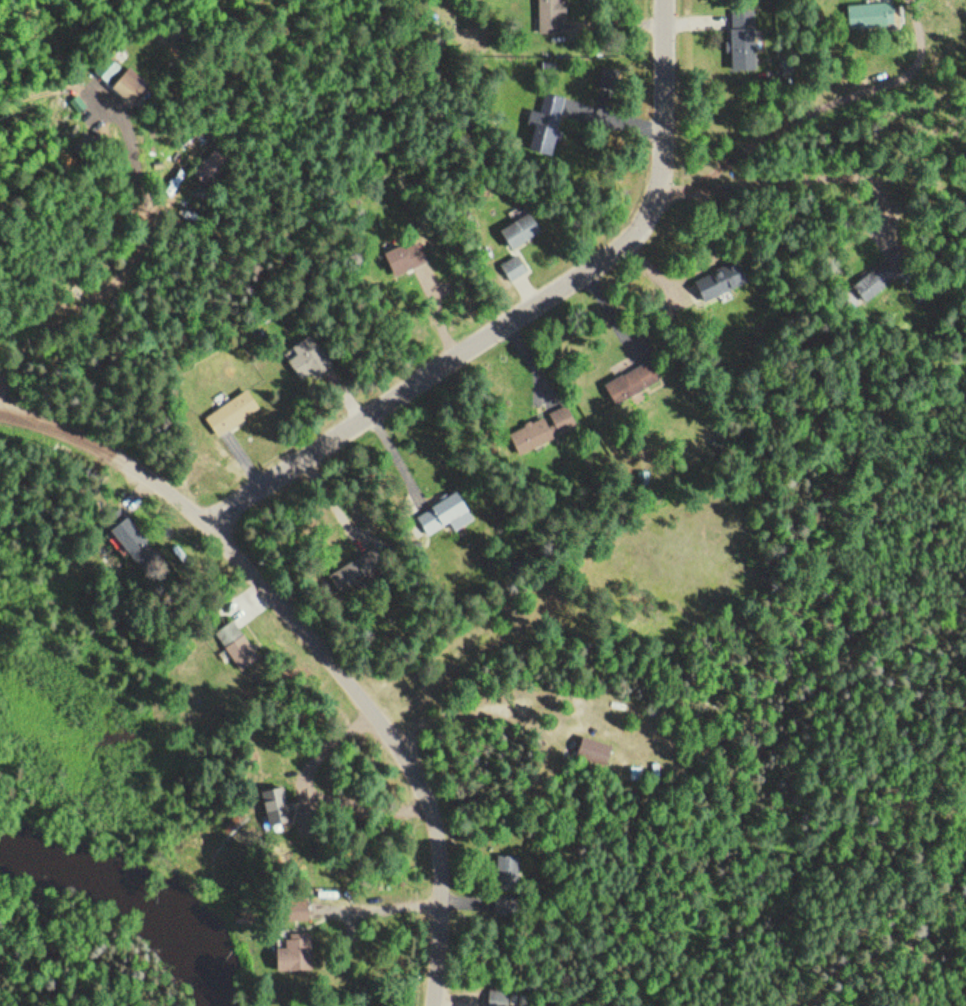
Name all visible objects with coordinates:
building: (555, 16)
building: (870, 16)
road: (784, 37)
building: (747, 39)
road: (771, 80)
building: (137, 86)
building: (549, 115)
building: (200, 140)
building: (95, 144)
building: (211, 166)
building: (525, 229)
building: (861, 244)
building: (408, 256)
building: (727, 278)
road: (528, 315)
building: (312, 358)
building: (635, 383)
road: (246, 409)
building: (235, 412)
building: (549, 427)
building: (456, 506)
building: (142, 542)
road: (314, 644)
building: (240, 645)
building: (564, 748)
building: (596, 751)
building: (279, 803)
road: (742, 854)
river: (132, 903)
building: (298, 952)
building: (499, 998)

